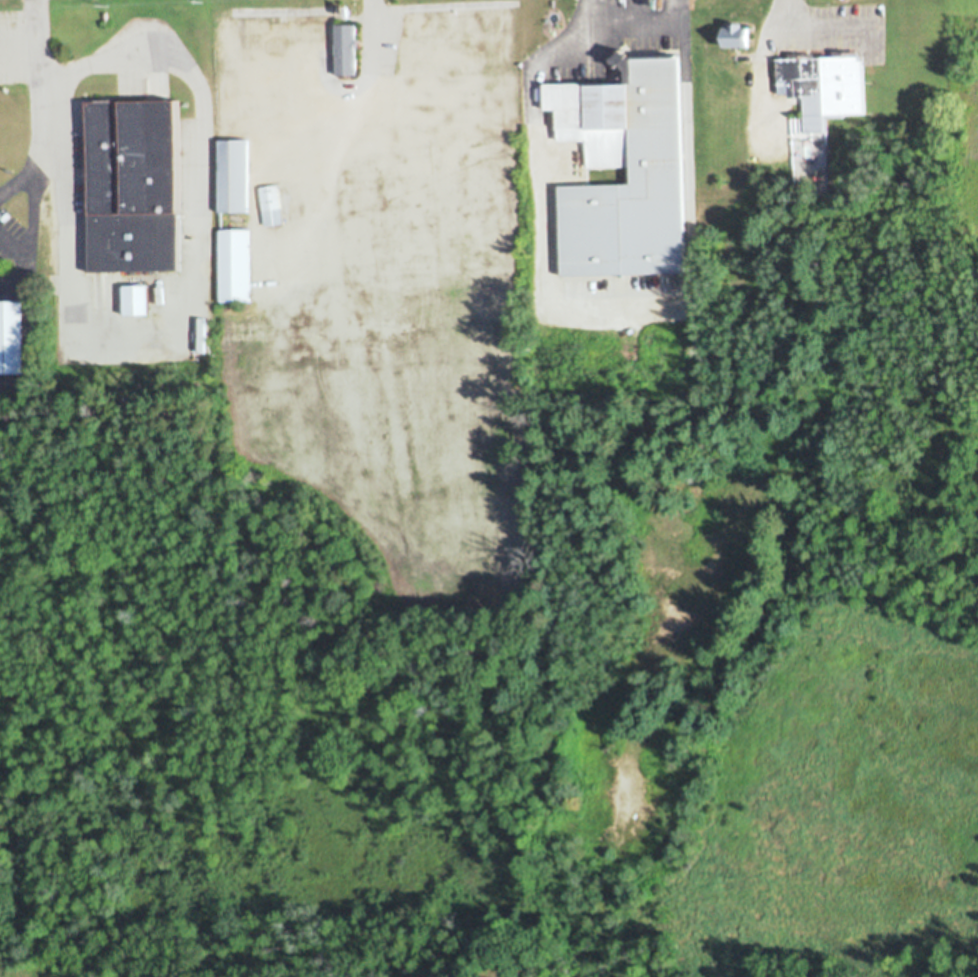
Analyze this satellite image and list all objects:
building: (626, 4)
road: (587, 12)
road: (785, 14)
building: (427, 24)
building: (295, 29)
building: (220, 34)
building: (738, 35)
building: (249, 38)
building: (344, 49)
road: (37, 64)
building: (824, 86)
road: (535, 147)
building: (634, 153)
building: (389, 164)
building: (231, 176)
building: (133, 185)
building: (291, 200)
building: (270, 212)
building: (234, 271)
building: (137, 299)
building: (229, 324)
building: (10, 337)

